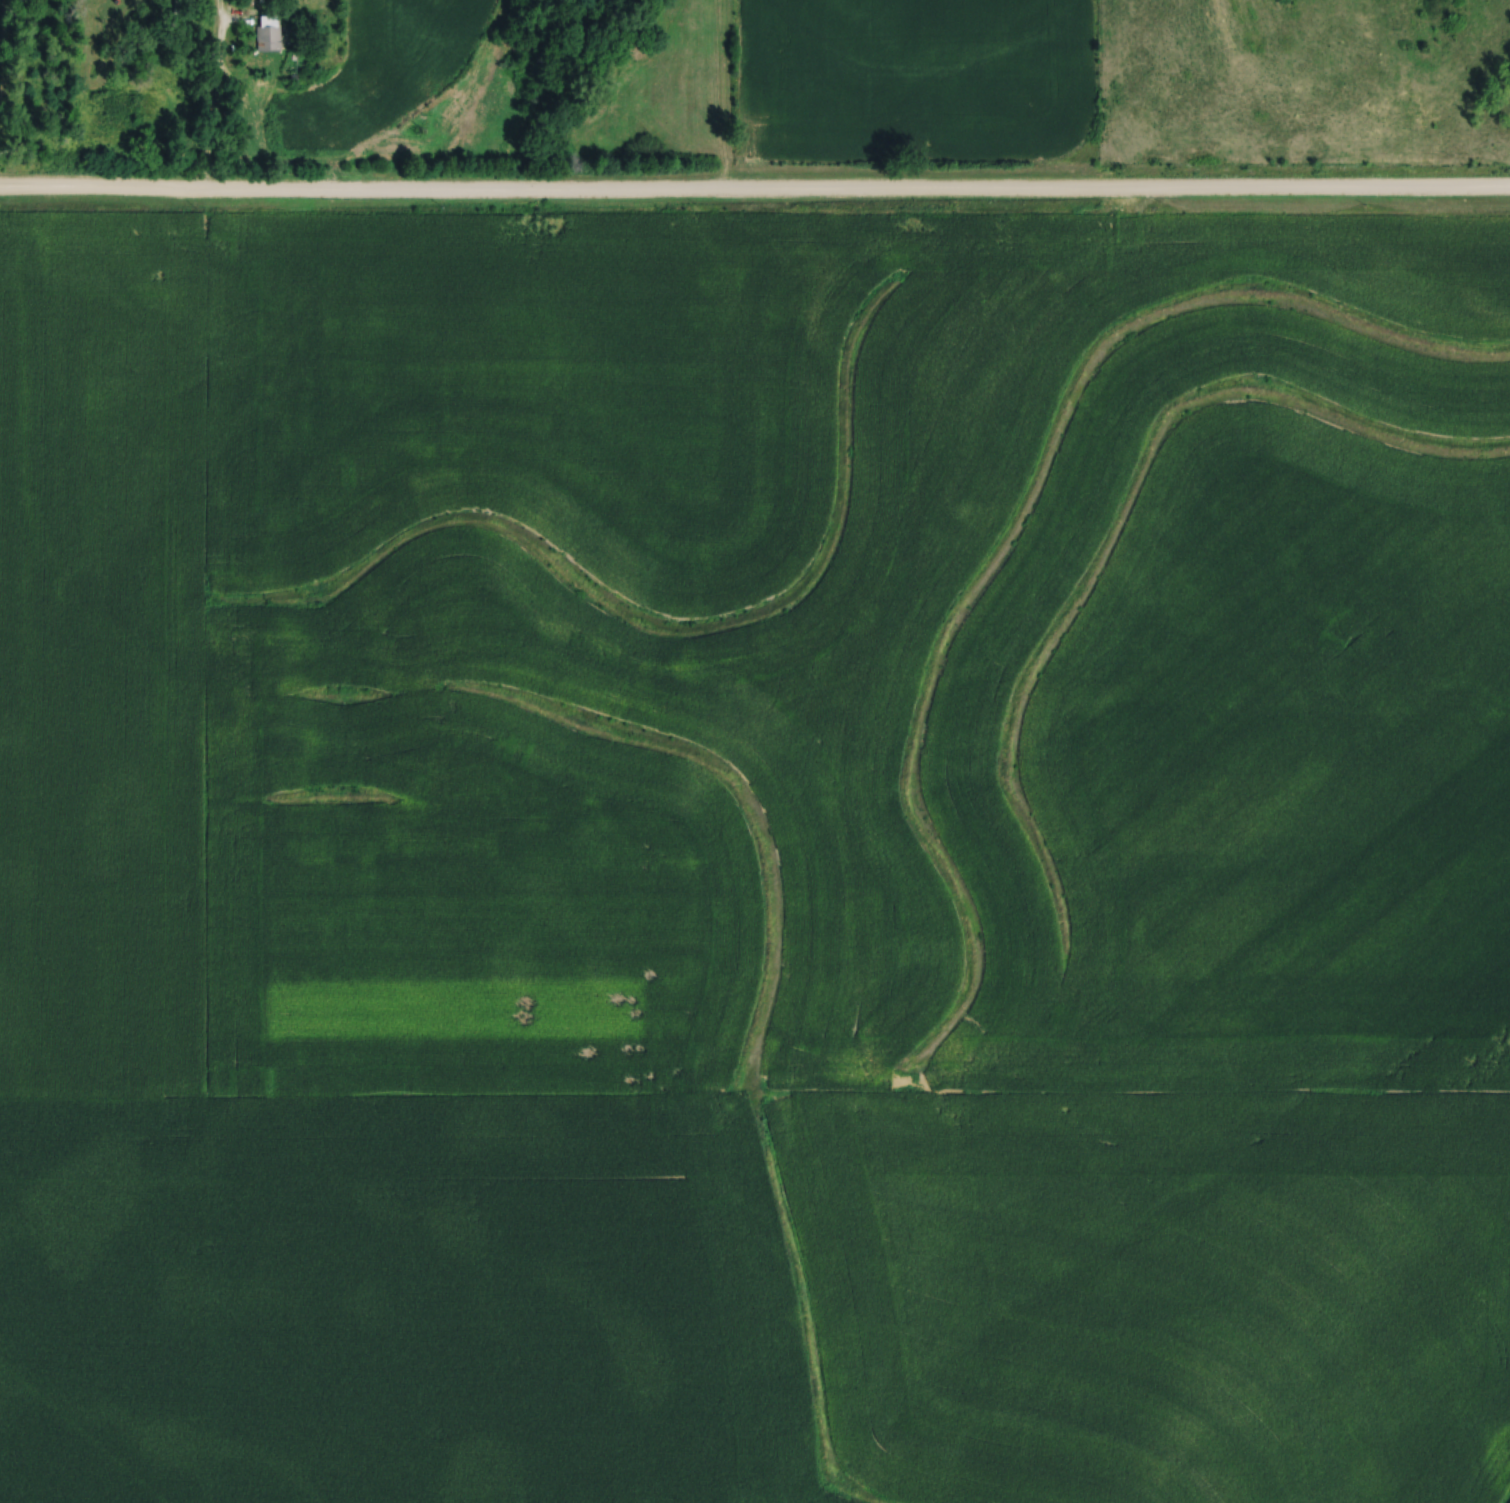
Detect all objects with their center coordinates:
building: (268, 38)
road: (754, 193)

